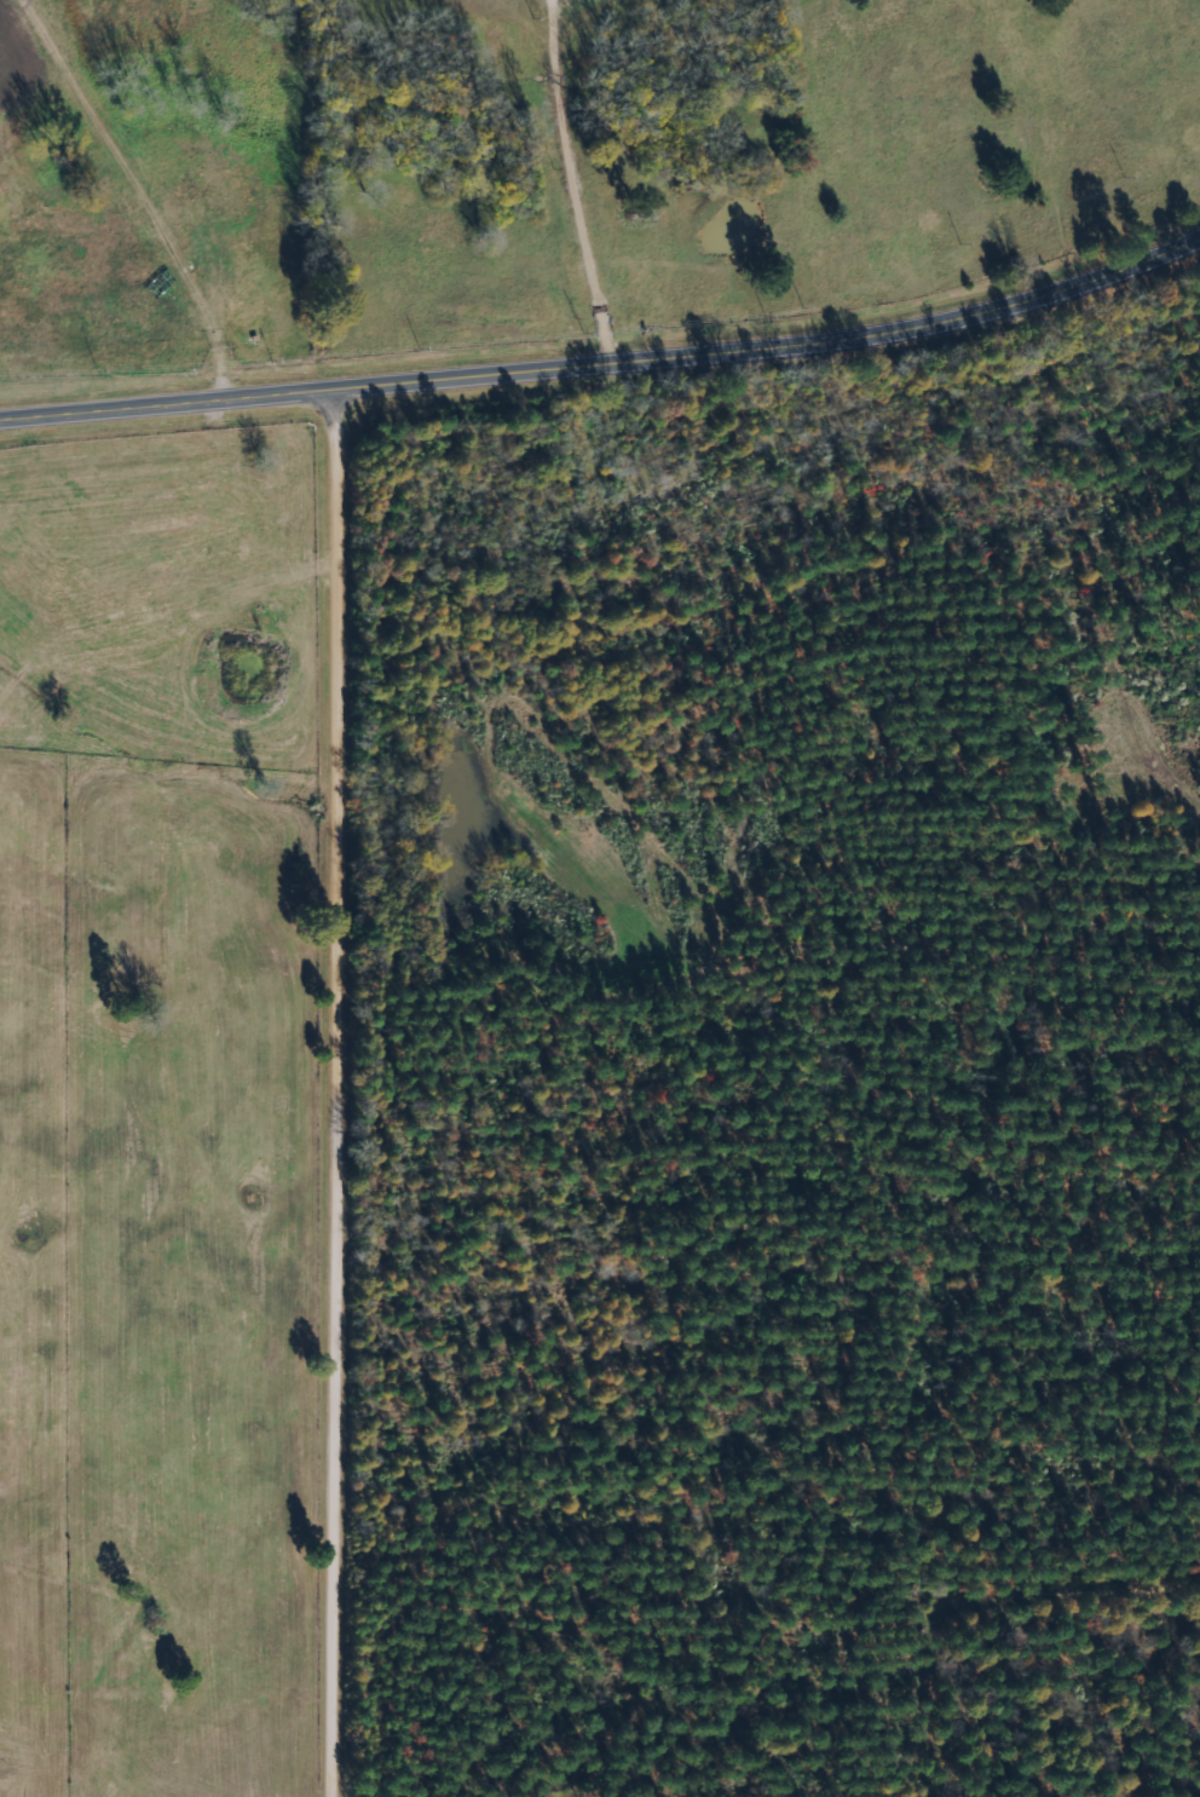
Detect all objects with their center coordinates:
road: (606, 365)
road: (347, 1090)

